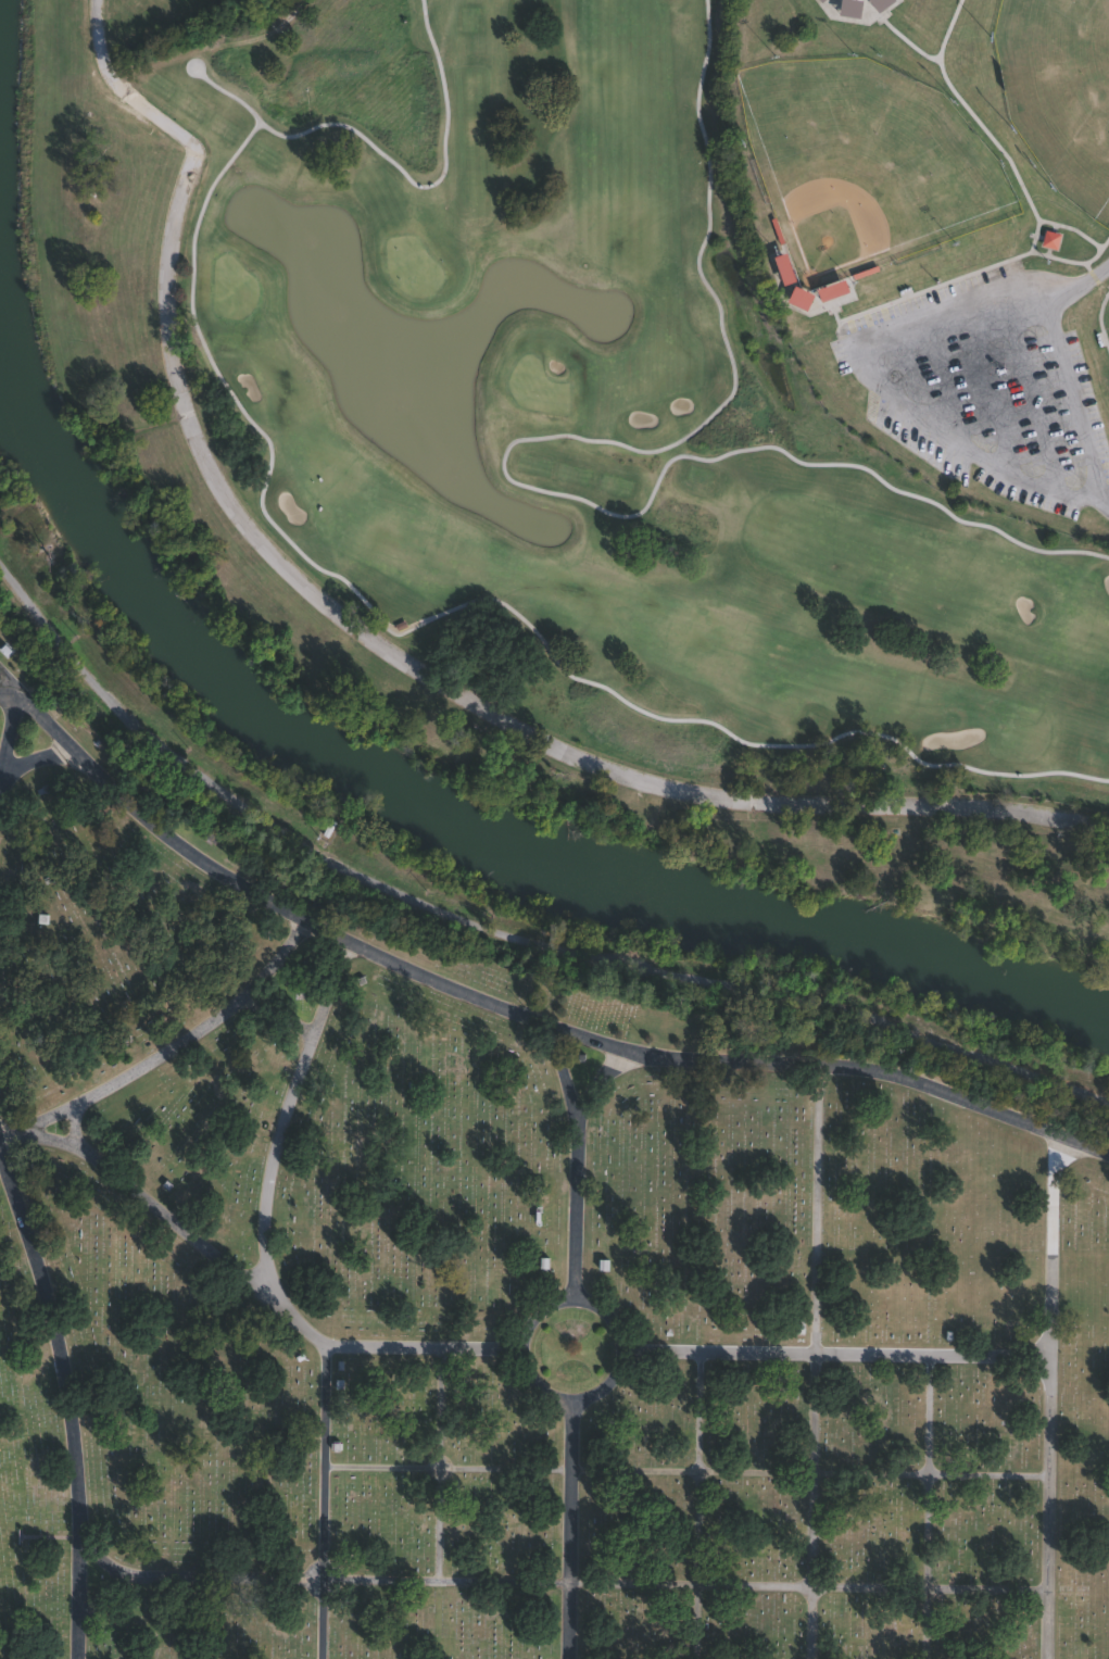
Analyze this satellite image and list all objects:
building: (821, 0)
building: (849, 8)
road: (953, 22)
park: (1058, 85)
road: (988, 115)
park: (875, 150)
park: (945, 214)
building: (1050, 239)
road: (1054, 248)
building: (832, 290)
road: (1106, 304)
road: (1081, 365)
road: (881, 373)
park: (535, 381)
road: (374, 643)
road: (41, 718)
road: (1, 779)
river: (441, 810)
building: (42, 918)
road: (346, 921)
road: (503, 926)
road: (279, 940)
road: (338, 968)
building: (62, 971)
road: (289, 1001)
road: (797, 1059)
road: (131, 1064)
road: (602, 1081)
road: (70, 1121)
road: (149, 1199)
park: (503, 1292)
road: (311, 1327)
road: (618, 1344)
road: (426, 1349)
road: (840, 1353)
road: (826, 1361)
road: (71, 1388)
road: (1059, 1400)
road: (448, 1409)
road: (941, 1413)
road: (693, 1470)
road: (571, 1525)
road: (204, 1560)
road: (448, 1562)
road: (941, 1566)
road: (105, 1575)
road: (694, 1586)

